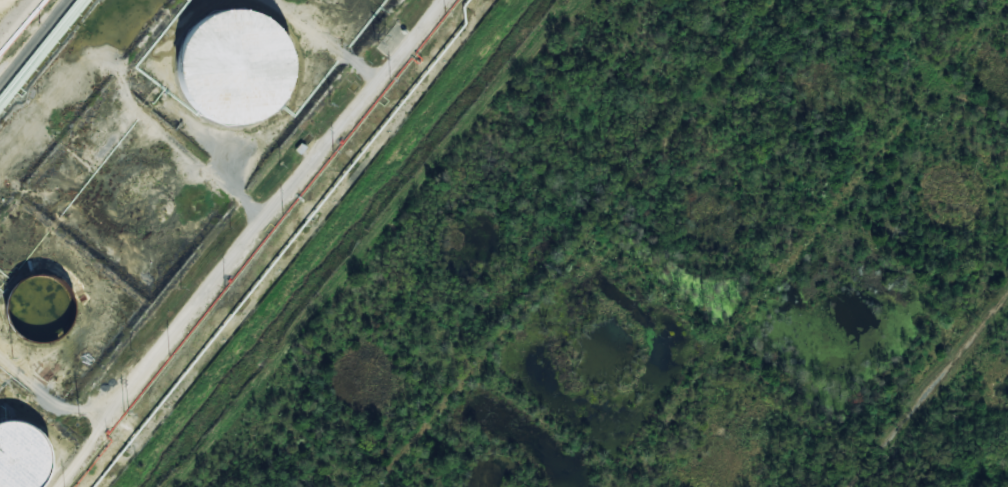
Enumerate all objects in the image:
road: (34, 42)
building: (237, 69)
storage tank: (237, 69)
road: (576, 241)
road: (248, 243)
road: (803, 243)
road: (363, 244)
building: (40, 314)
storage tank: (40, 314)
road: (930, 391)
road: (214, 434)
building: (22, 457)
storage tank: (22, 457)

